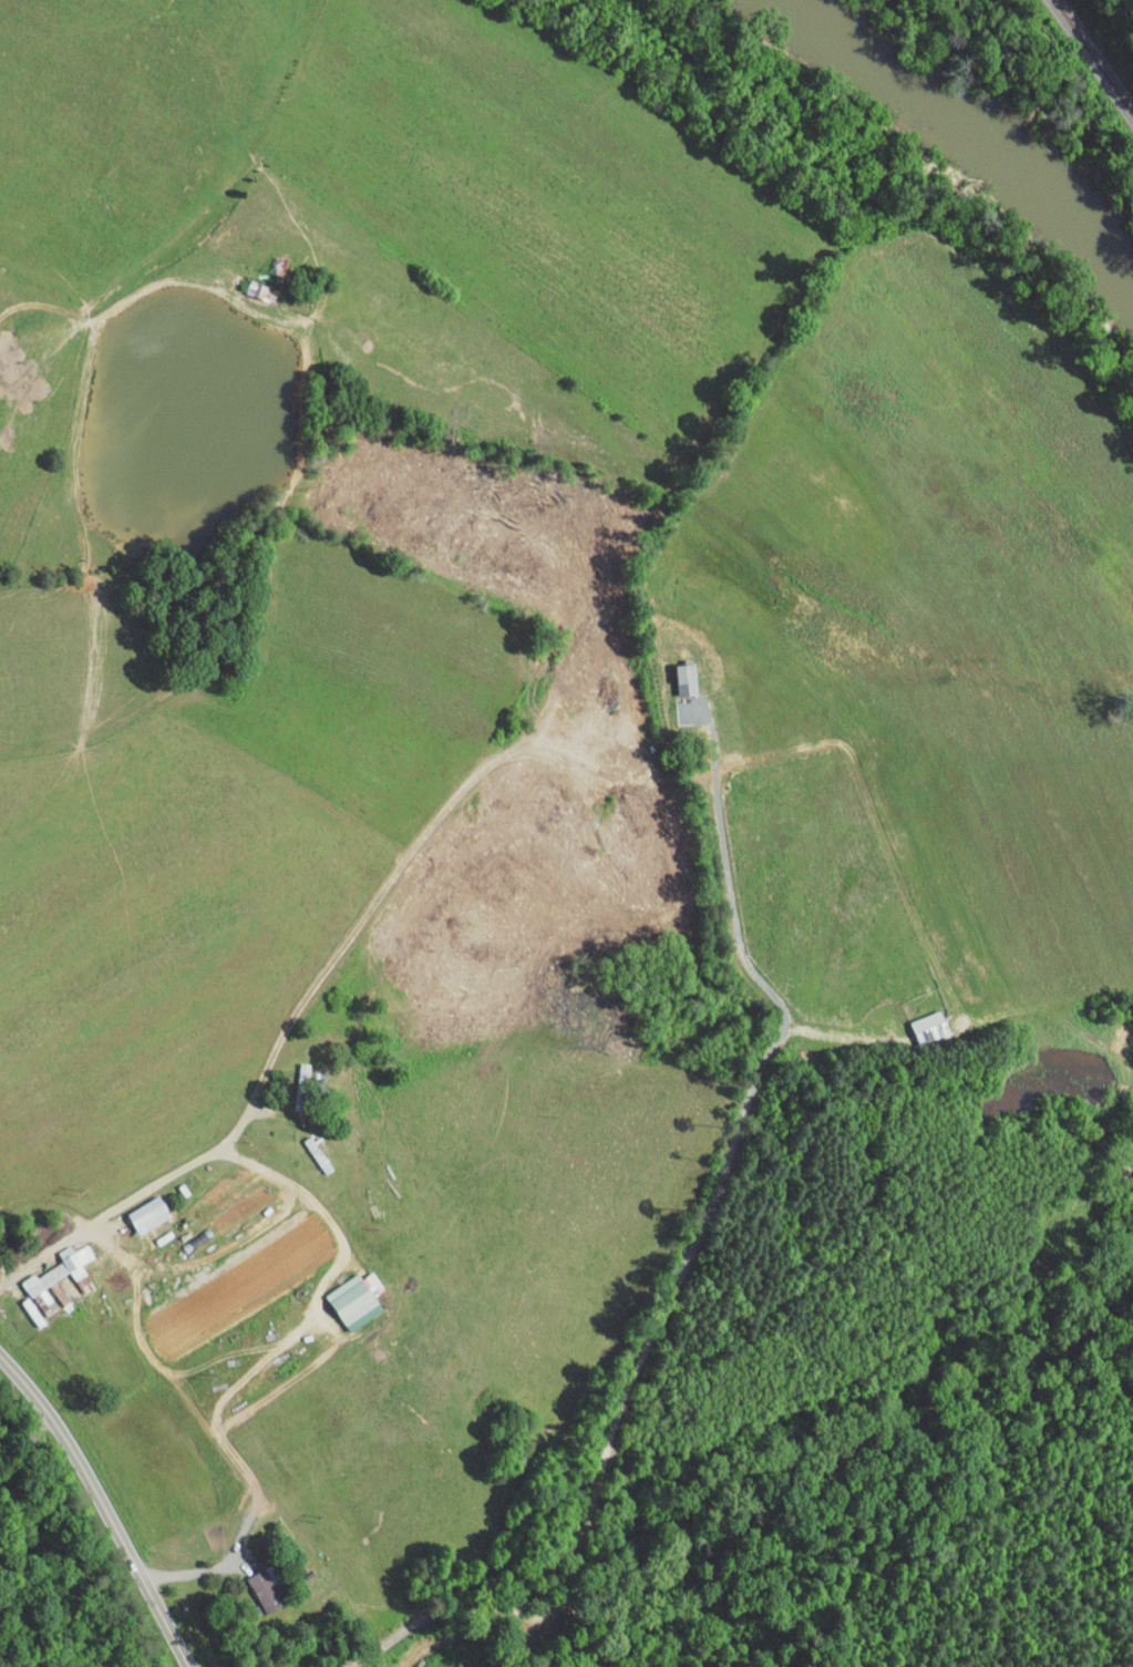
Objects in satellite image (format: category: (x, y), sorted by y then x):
railway: (1094, 56)
river: (975, 128)
building: (256, 285)
building: (676, 671)
building: (918, 1020)
road: (185, 1165)
building: (137, 1207)
road: (683, 1252)
building: (45, 1268)
building: (362, 1276)
building: (342, 1295)
road: (22, 1447)
road: (104, 1507)
road: (192, 1574)
building: (254, 1584)

